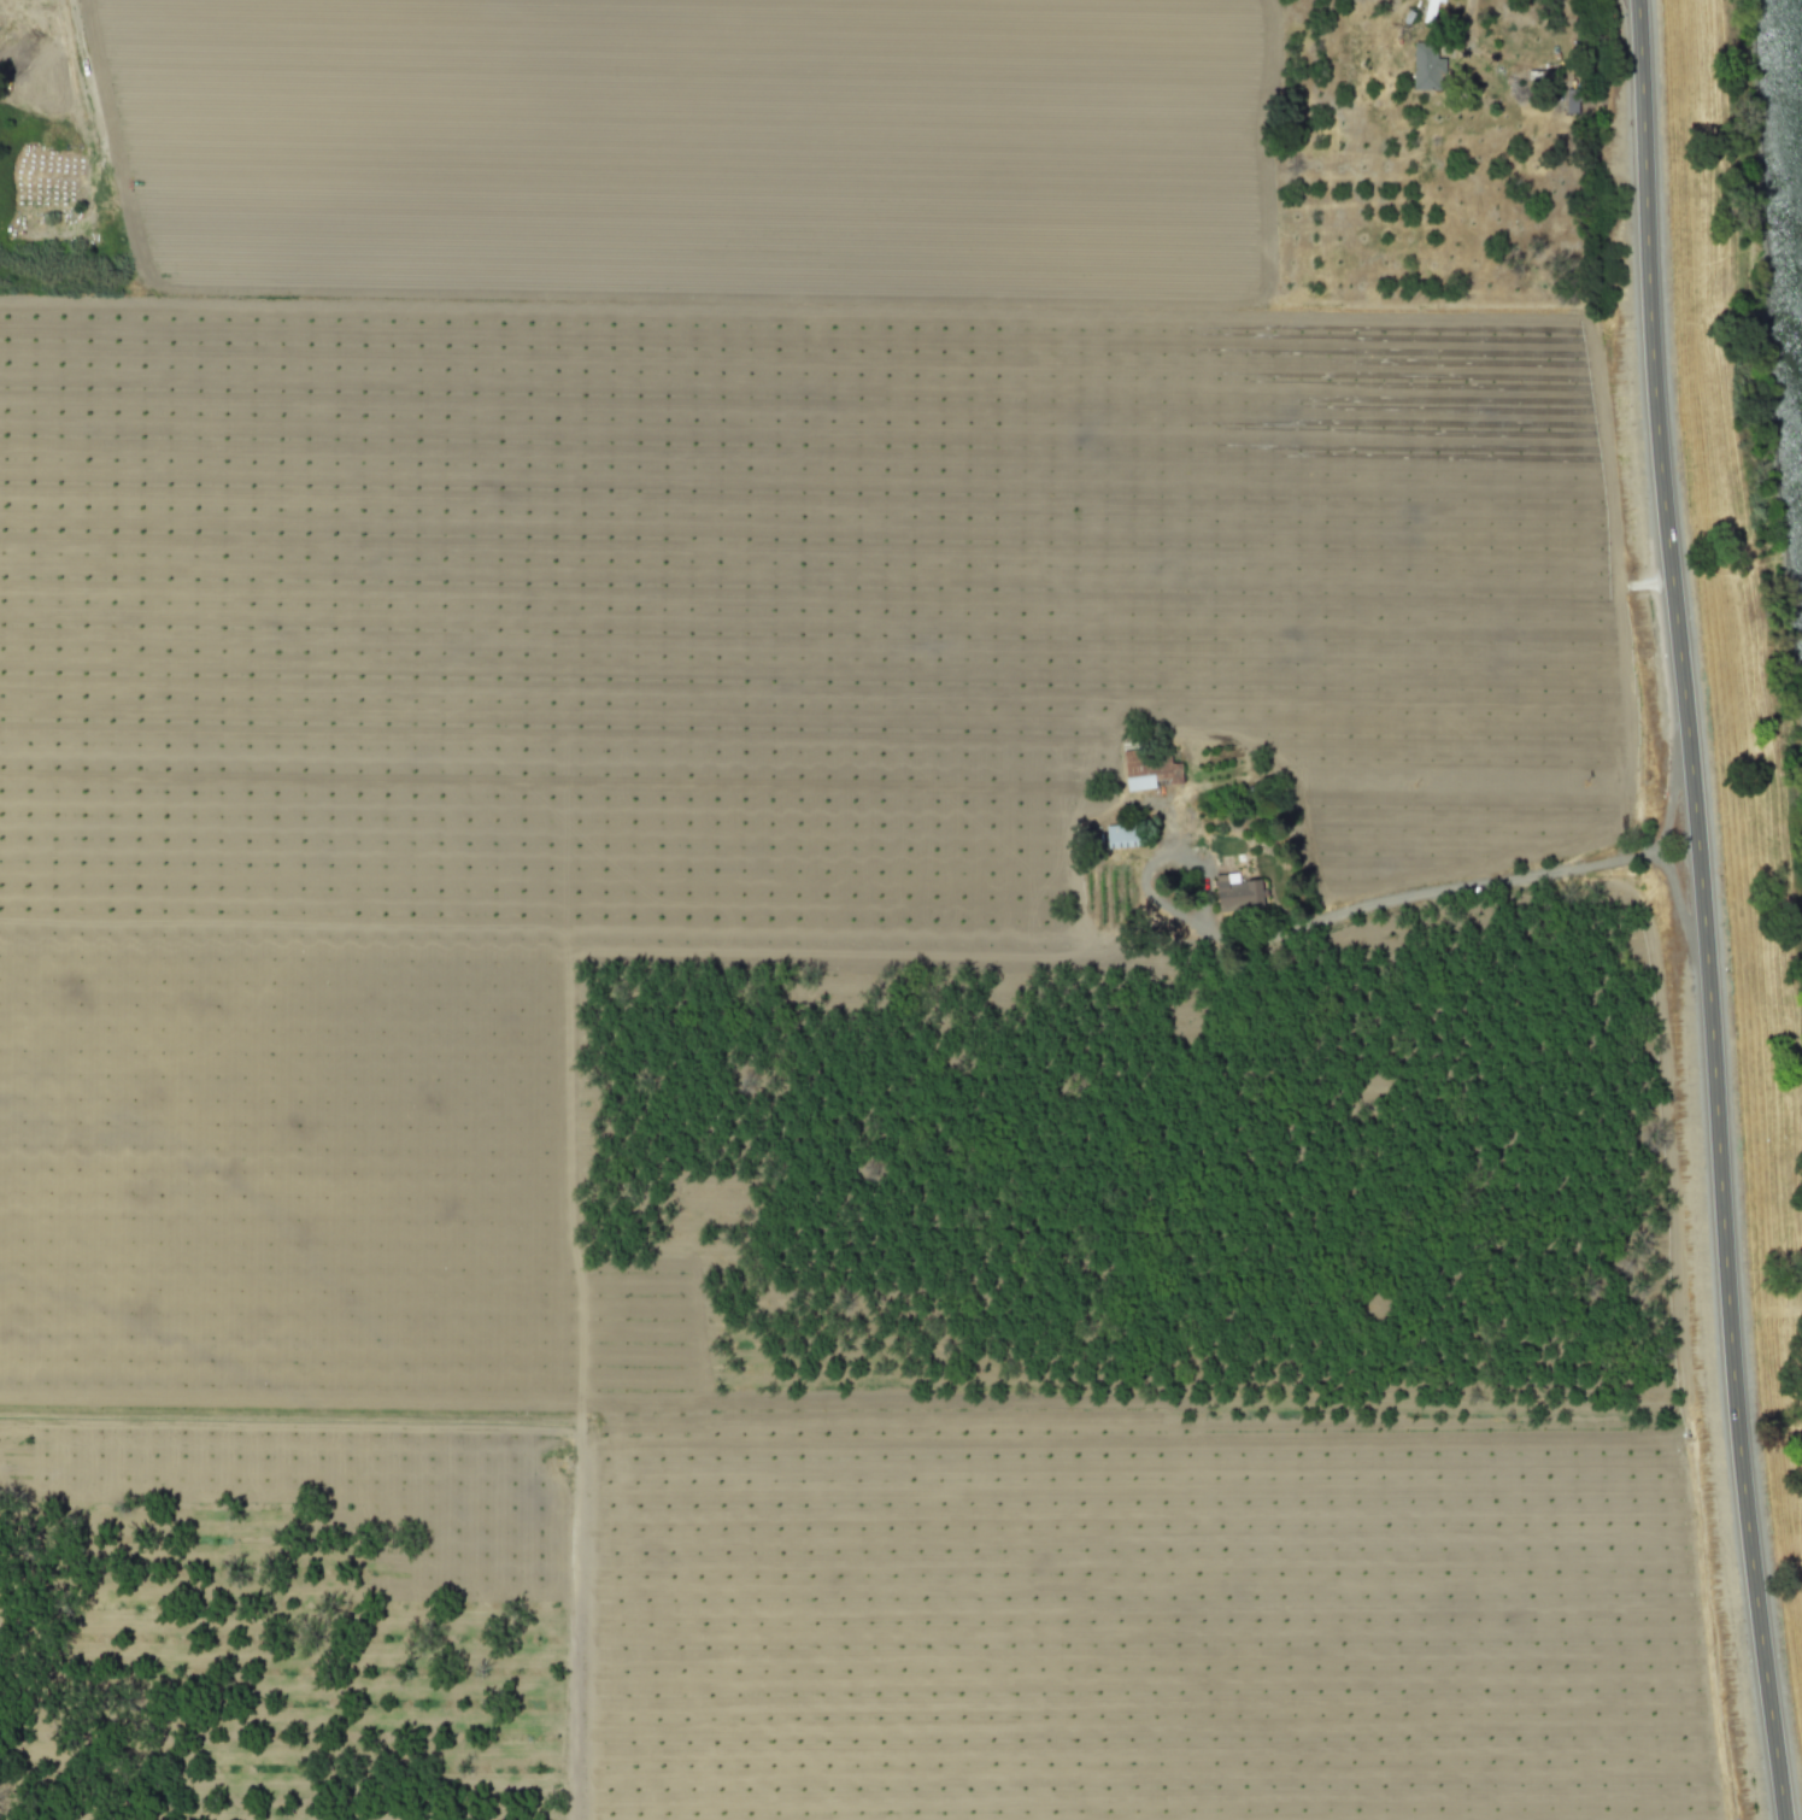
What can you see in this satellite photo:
building: (1426, 66)
building: (1149, 769)
road: (1527, 876)
building: (1238, 893)
road: (1701, 910)
crop: (856, 929)

